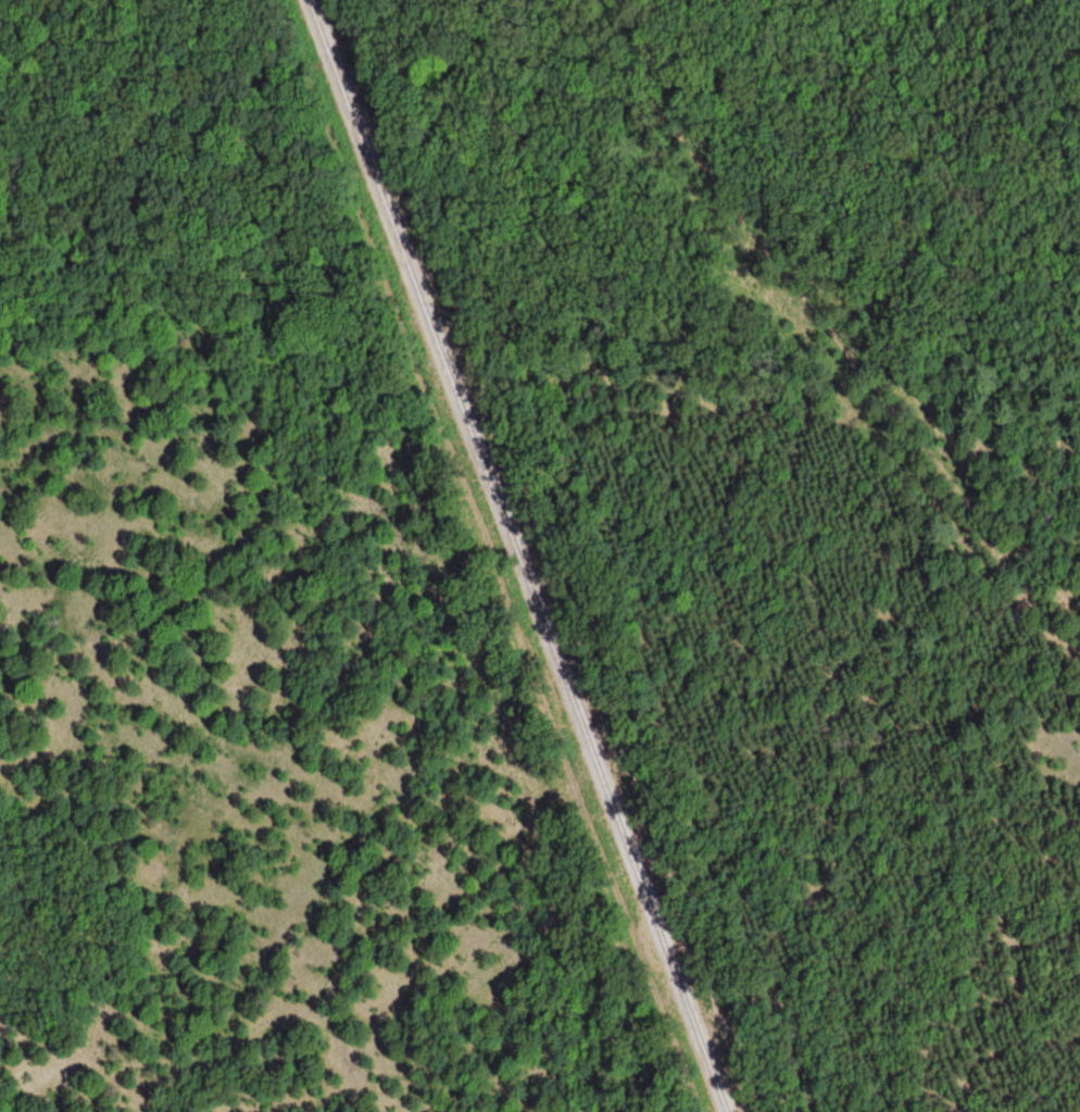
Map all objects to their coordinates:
road: (824, 329)
railway: (517, 557)

